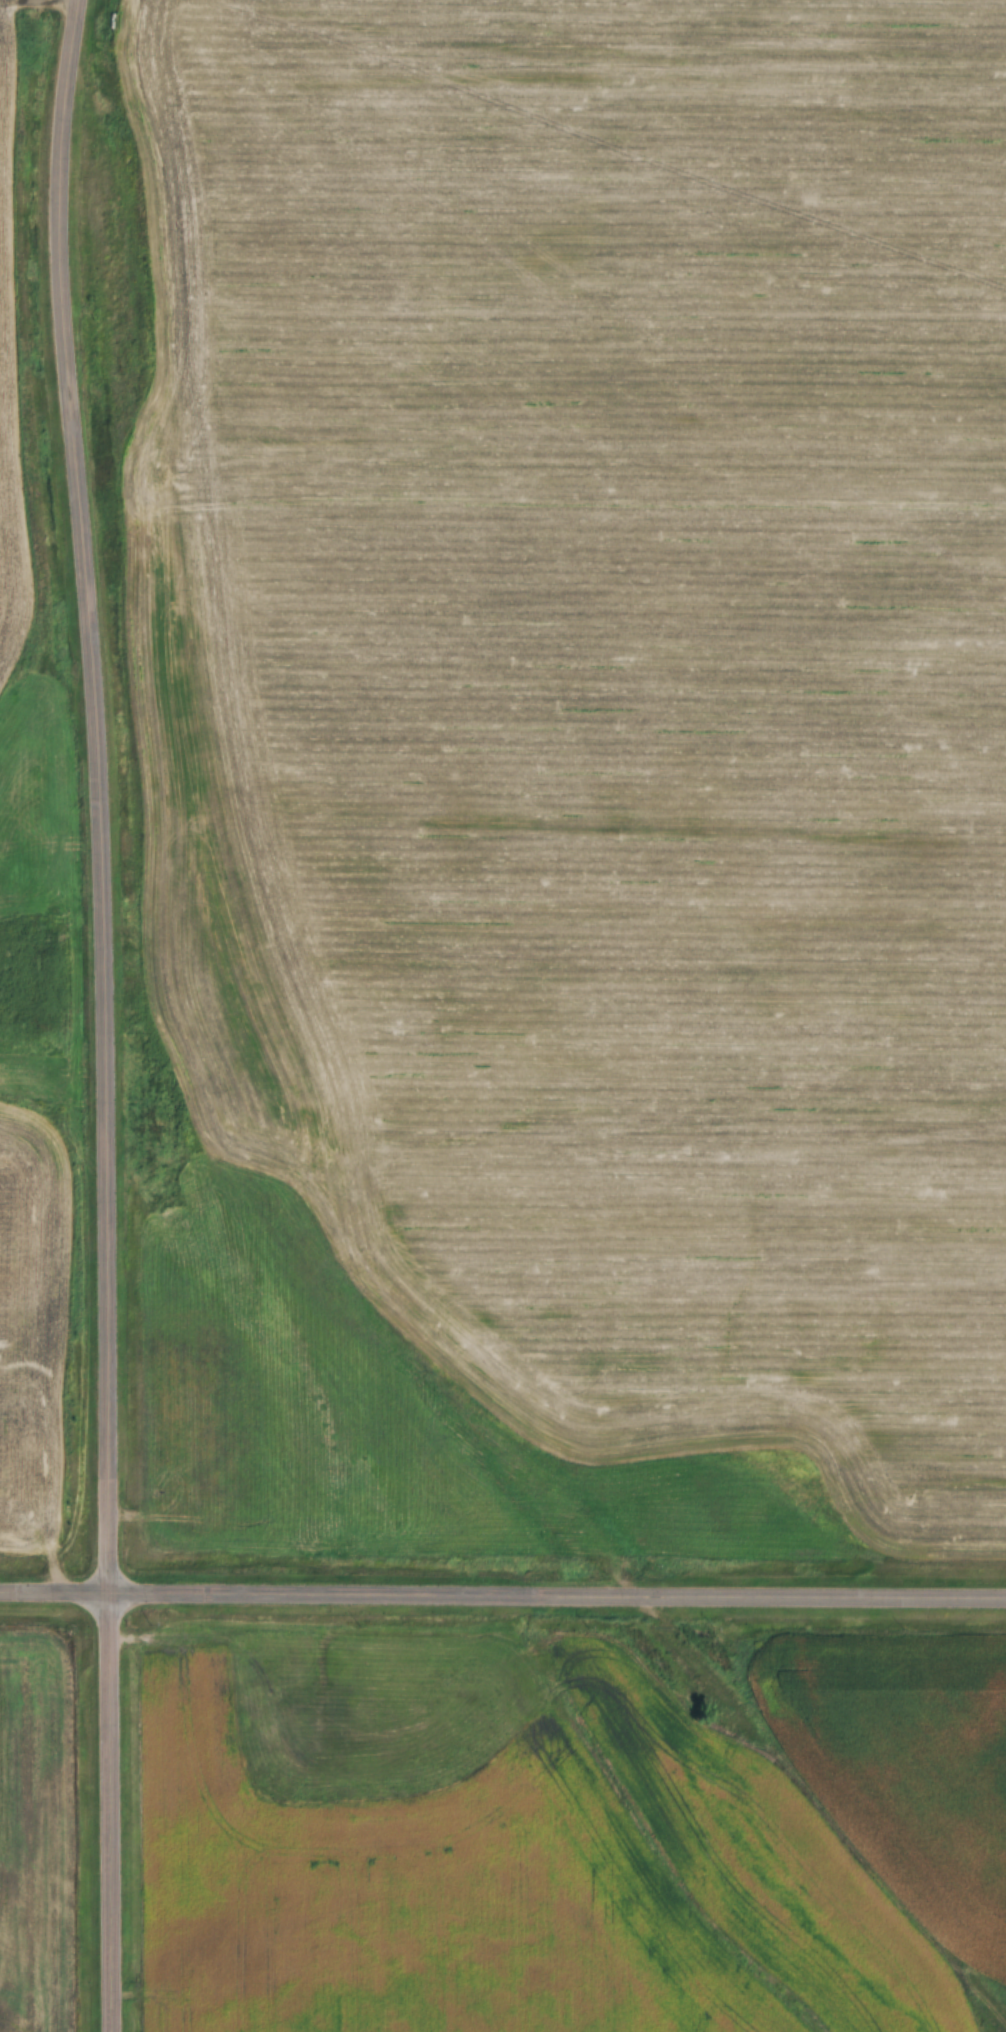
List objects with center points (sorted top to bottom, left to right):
road: (104, 1014)
road: (502, 1599)

